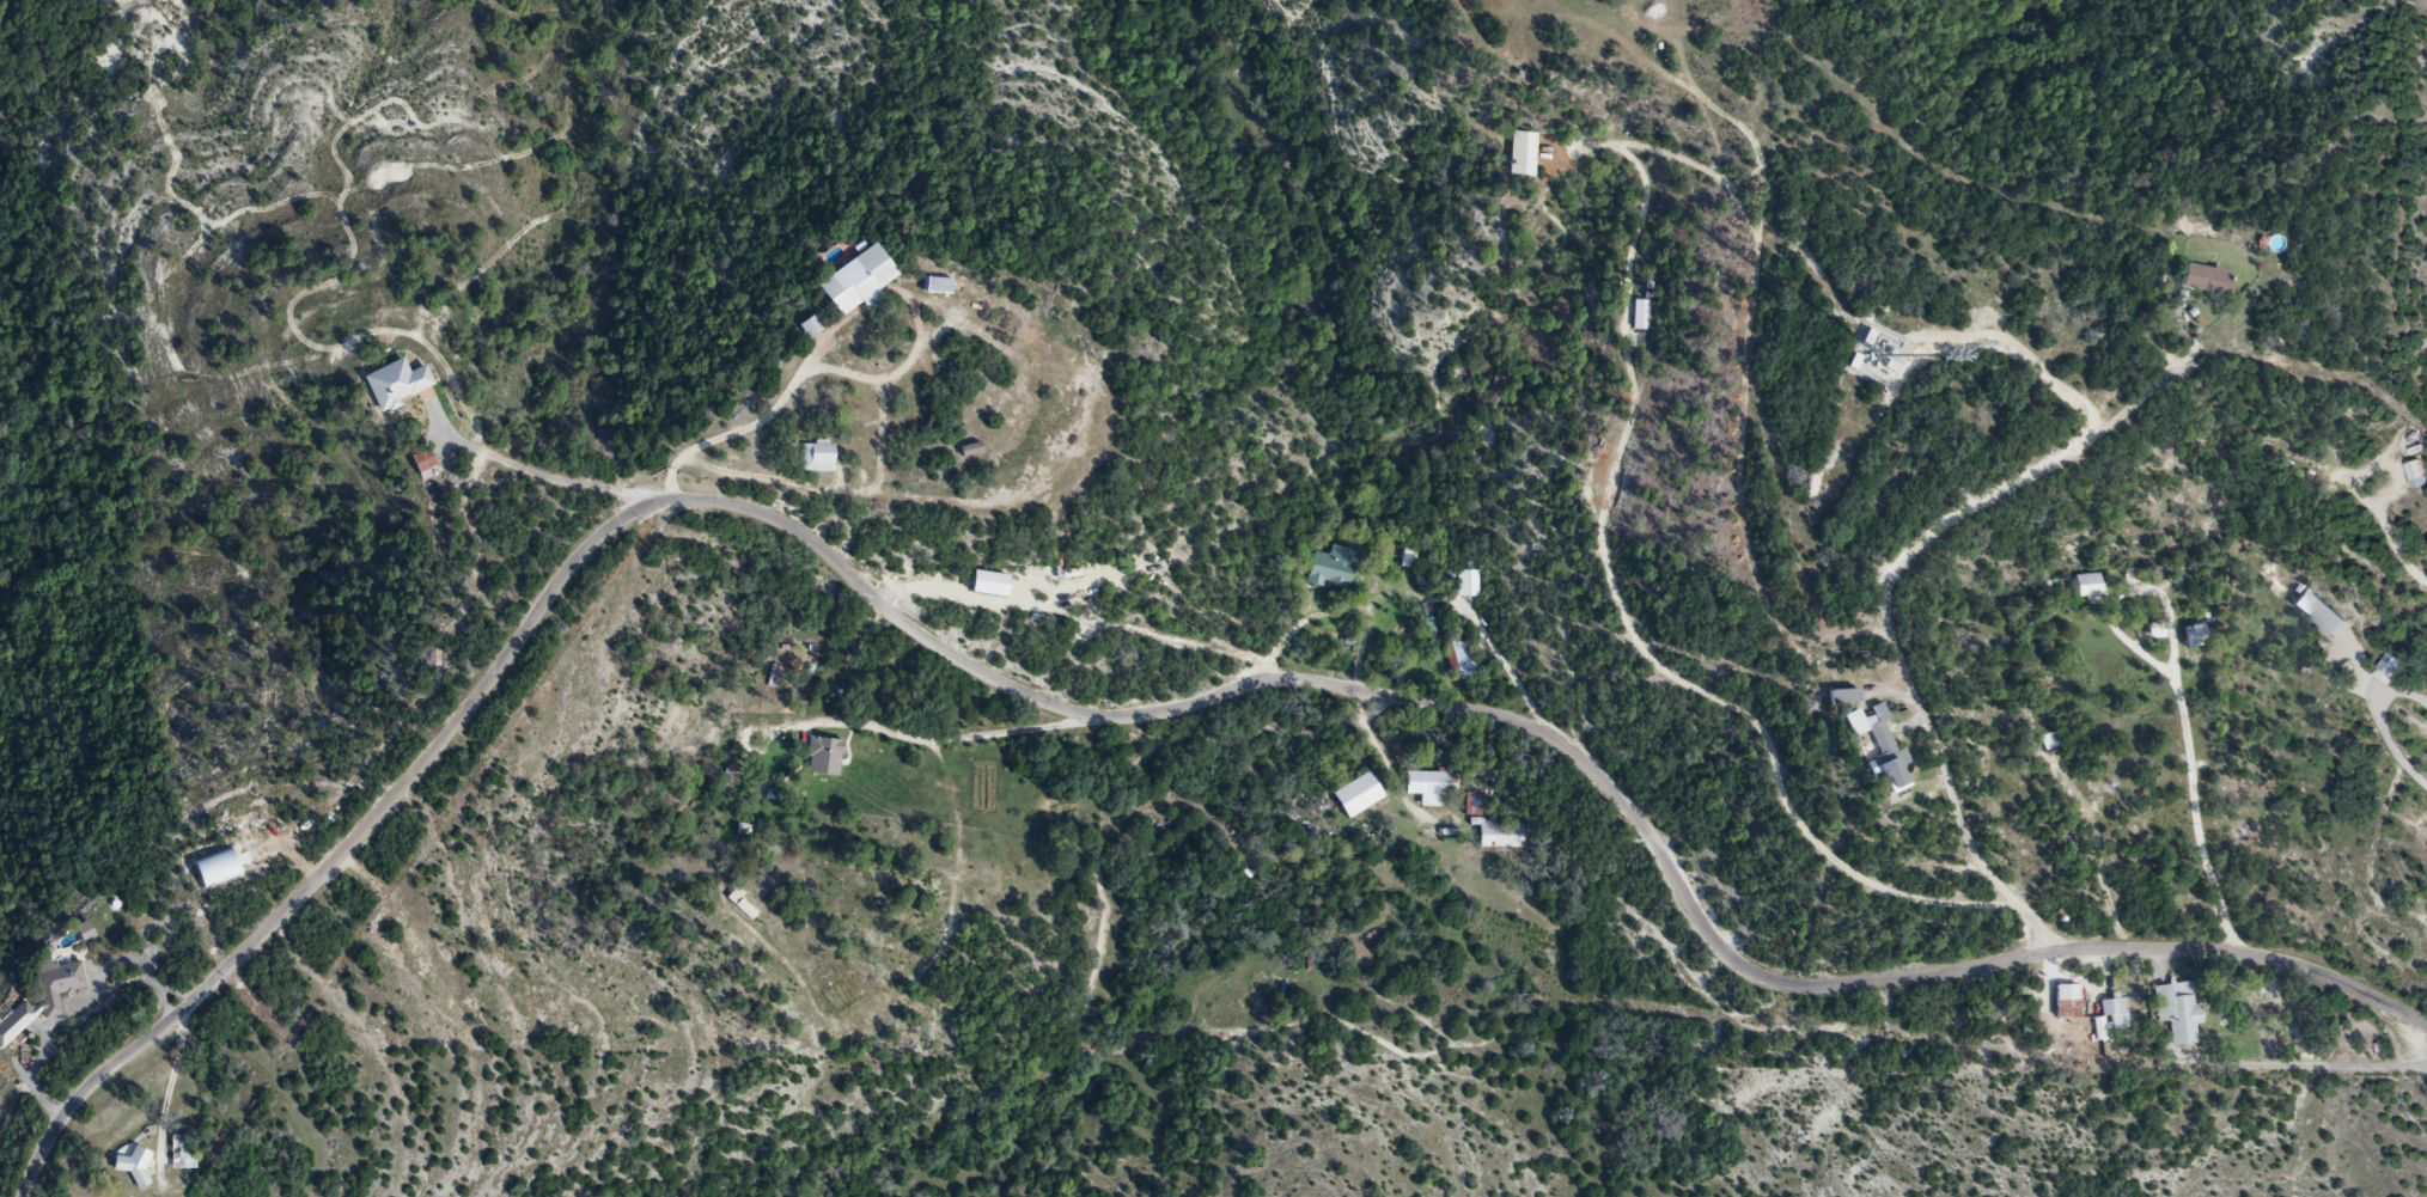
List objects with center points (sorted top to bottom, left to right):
building: (1524, 155)
building: (2205, 281)
building: (859, 283)
building: (938, 287)
building: (1644, 316)
building: (812, 329)
road: (889, 379)
building: (396, 386)
road: (731, 436)
building: (971, 452)
building: (818, 459)
building: (423, 463)
building: (2417, 476)
road: (829, 491)
building: (1410, 558)
building: (1341, 569)
building: (2130, 578)
road: (1891, 585)
building: (2090, 588)
building: (2196, 637)
building: (1461, 662)
building: (2390, 667)
road: (922, 741)
road: (1569, 743)
building: (1879, 747)
road: (1378, 752)
building: (732, 782)
building: (1433, 783)
road: (2199, 817)
building: (1502, 836)
road: (348, 850)
building: (743, 909)
building: (43, 1000)
road: (87, 1000)
building: (2067, 1003)
building: (2178, 1013)
building: (2111, 1019)
building: (183, 1154)
building: (135, 1167)

